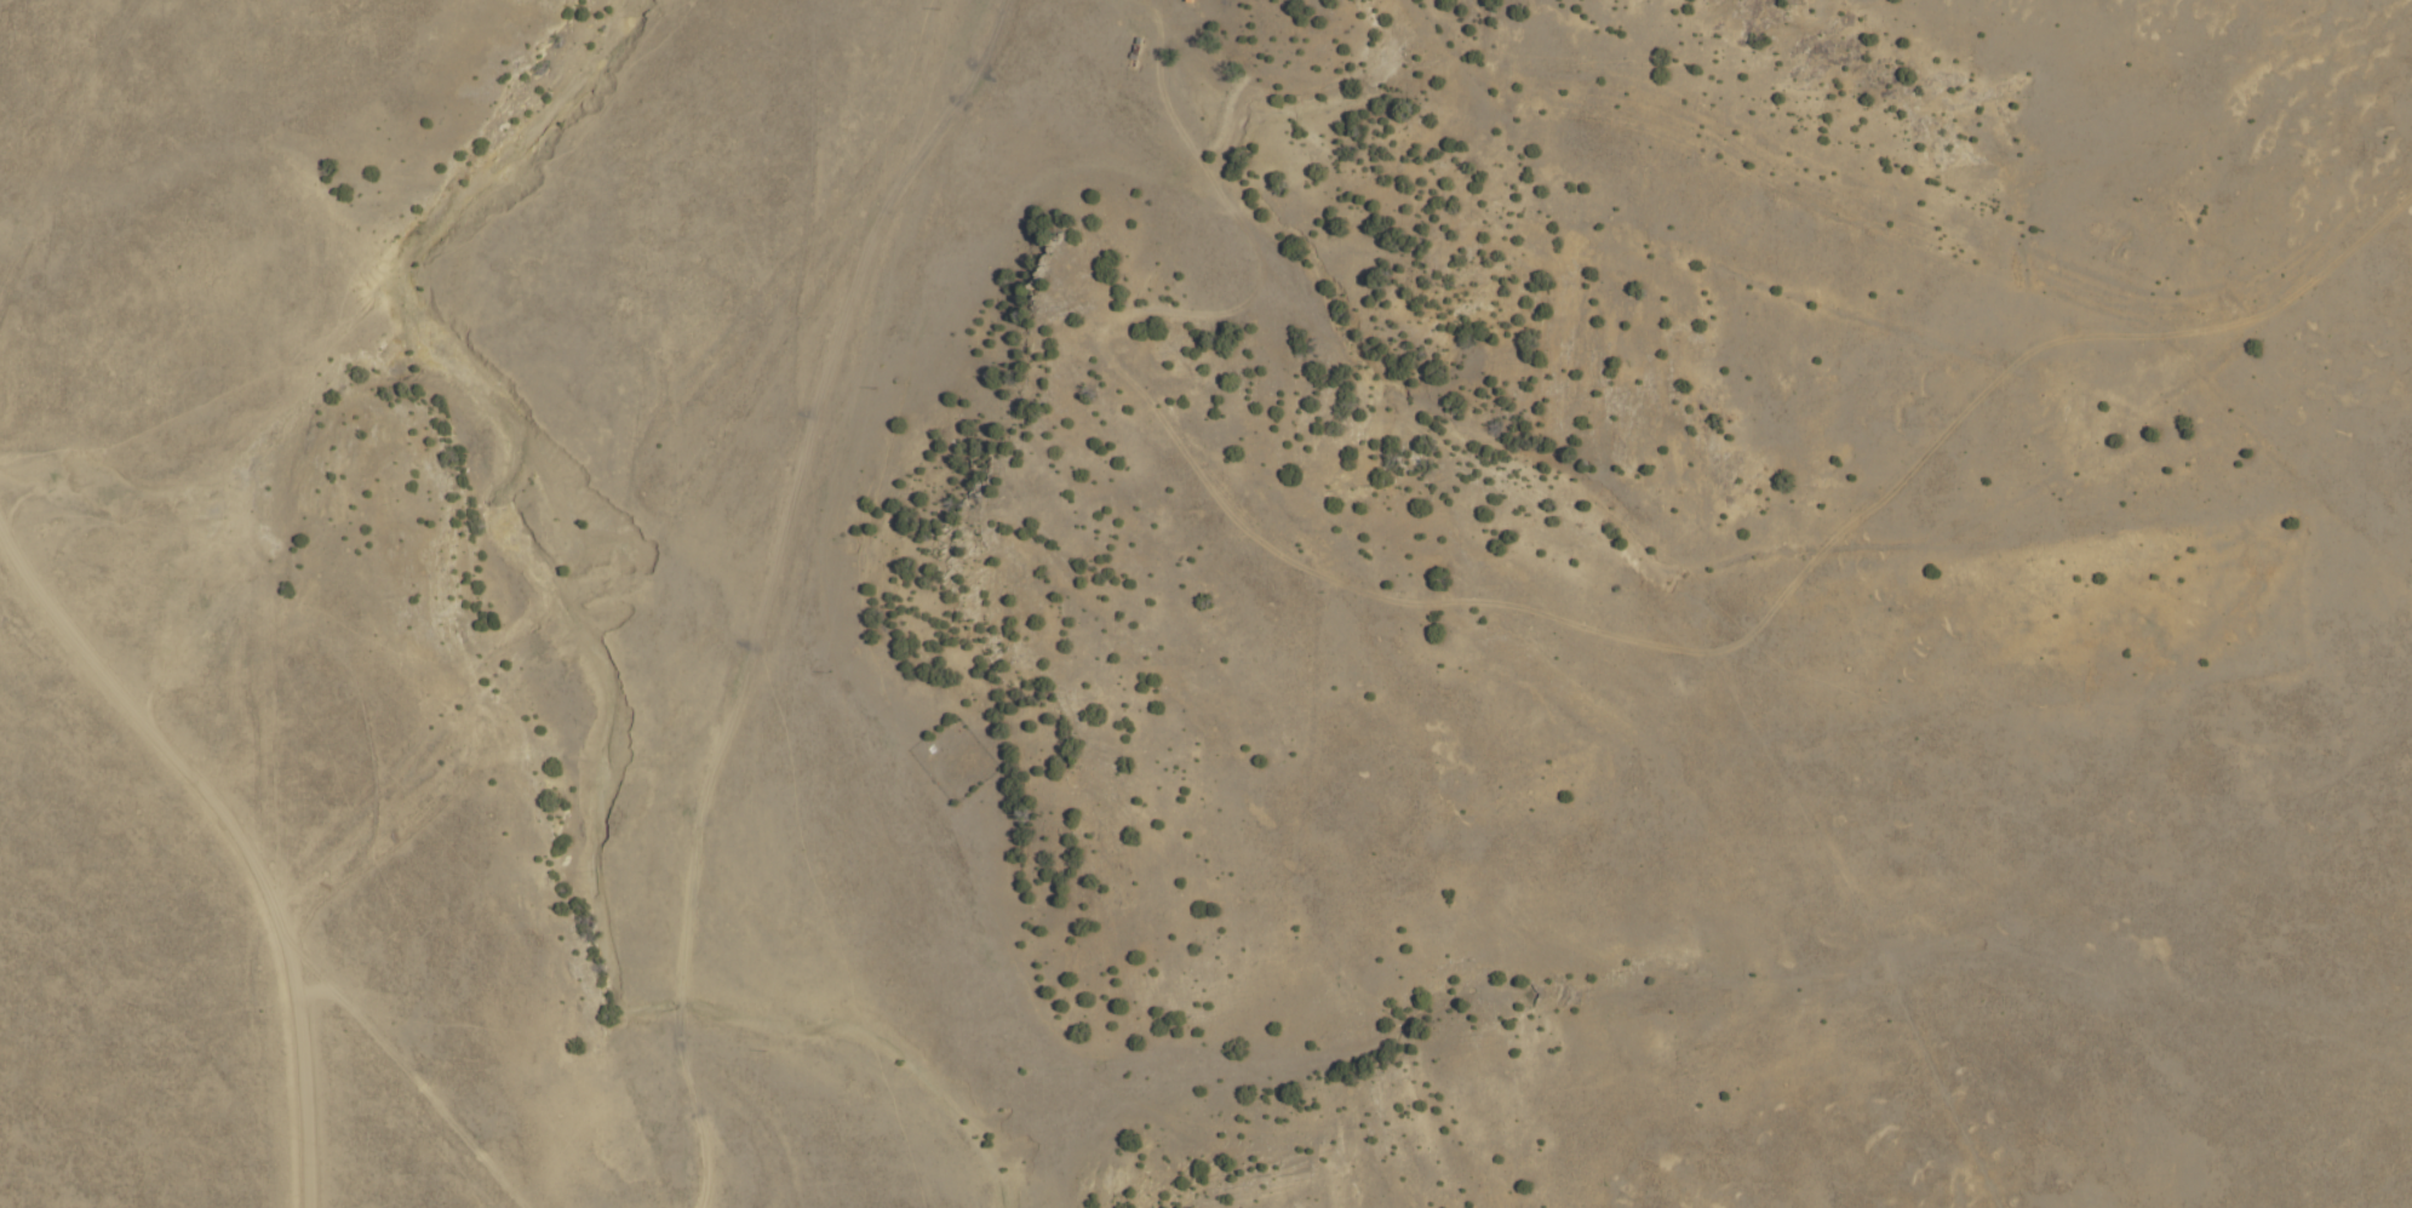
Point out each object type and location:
road: (36, 95)
road: (649, 654)
park: (951, 760)
road: (141, 779)

